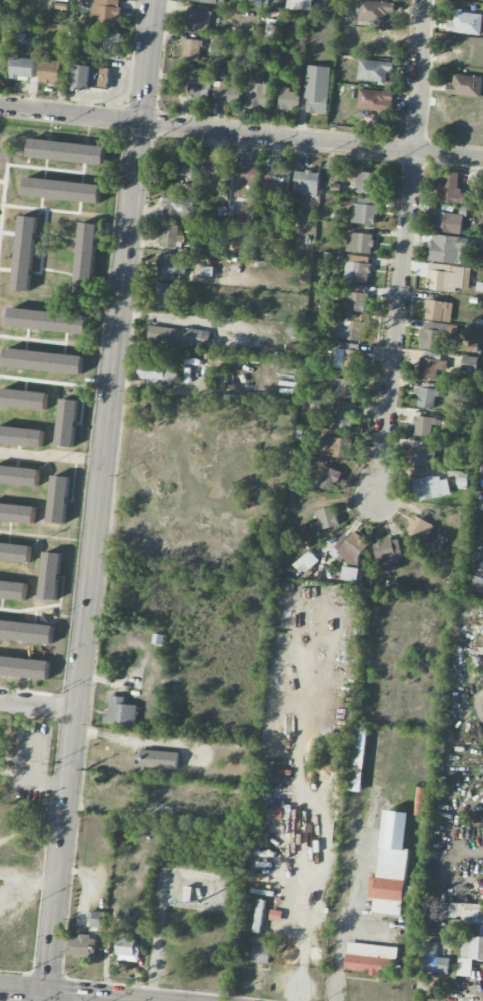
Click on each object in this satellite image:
building: (204, 1)
building: (301, 4)
building: (107, 13)
building: (197, 19)
building: (465, 23)
building: (111, 44)
building: (192, 49)
road: (146, 60)
building: (22, 67)
building: (49, 71)
building: (374, 71)
building: (90, 77)
building: (465, 85)
building: (199, 89)
building: (317, 89)
building: (229, 94)
building: (259, 94)
building: (289, 99)
building: (375, 100)
traffic signals: (140, 121)
road: (241, 132)
building: (67, 151)
building: (189, 168)
building: (216, 174)
building: (277, 180)
building: (247, 181)
building: (306, 183)
building: (367, 183)
building: (451, 188)
building: (63, 189)
building: (179, 207)
building: (364, 211)
building: (247, 217)
building: (449, 222)
building: (359, 242)
building: (450, 248)
road: (403, 249)
building: (25, 252)
building: (86, 257)
building: (170, 265)
building: (357, 268)
building: (448, 277)
building: (163, 295)
building: (356, 298)
building: (438, 310)
building: (47, 319)
building: (349, 330)
building: (178, 335)
building: (436, 336)
building: (43, 360)
building: (157, 371)
building: (346, 388)
building: (24, 398)
building: (427, 398)
building: (344, 415)
building: (480, 419)
building: (68, 423)
building: (425, 425)
building: (22, 436)
building: (336, 447)
building: (422, 457)
building: (19, 475)
building: (329, 478)
building: (431, 487)
building: (59, 499)
building: (17, 513)
building: (328, 518)
building: (419, 529)
building: (349, 548)
building: (15, 553)
road: (93, 555)
building: (387, 555)
building: (50, 576)
building: (12, 590)
building: (26, 631)
building: (24, 667)
road: (38, 699)
building: (120, 713)
building: (158, 759)
building: (356, 759)
road: (15, 764)
building: (419, 801)
road: (322, 841)
building: (392, 867)
road: (29, 878)
building: (97, 919)
road: (350, 921)
building: (467, 932)
building: (80, 946)
building: (127, 949)
building: (261, 953)
building: (369, 958)
building: (433, 960)
traffic signals: (49, 991)
road: (70, 993)
road: (48, 996)

